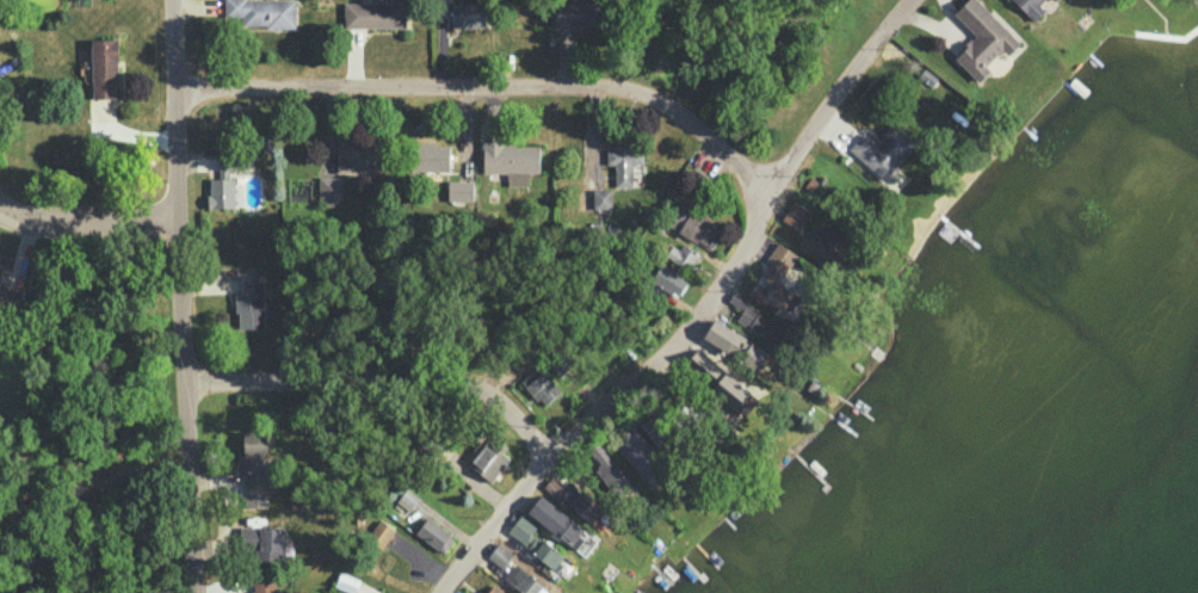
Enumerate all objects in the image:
building: (1052, 0)
building: (1030, 7)
building: (261, 12)
building: (578, 12)
building: (375, 14)
building: (468, 14)
building: (981, 38)
building: (104, 68)
road: (492, 86)
building: (882, 149)
building: (430, 156)
building: (359, 157)
building: (511, 160)
building: (623, 162)
building: (222, 180)
building: (328, 190)
building: (459, 190)
building: (600, 198)
building: (795, 215)
building: (692, 224)
road: (86, 226)
building: (683, 255)
building: (779, 258)
building: (0, 272)
building: (667, 279)
building: (8, 296)
road: (179, 296)
building: (771, 296)
building: (736, 299)
building: (249, 302)
road: (698, 315)
building: (759, 323)
building: (736, 345)
building: (702, 365)
road: (376, 382)
building: (541, 385)
building: (638, 453)
building: (254, 461)
building: (487, 462)
building: (610, 472)
building: (407, 499)
building: (579, 501)
building: (557, 521)
building: (381, 533)
building: (434, 535)
building: (260, 542)
building: (535, 542)
building: (499, 556)
building: (521, 580)
building: (346, 582)
building: (264, 583)
building: (494, 589)

